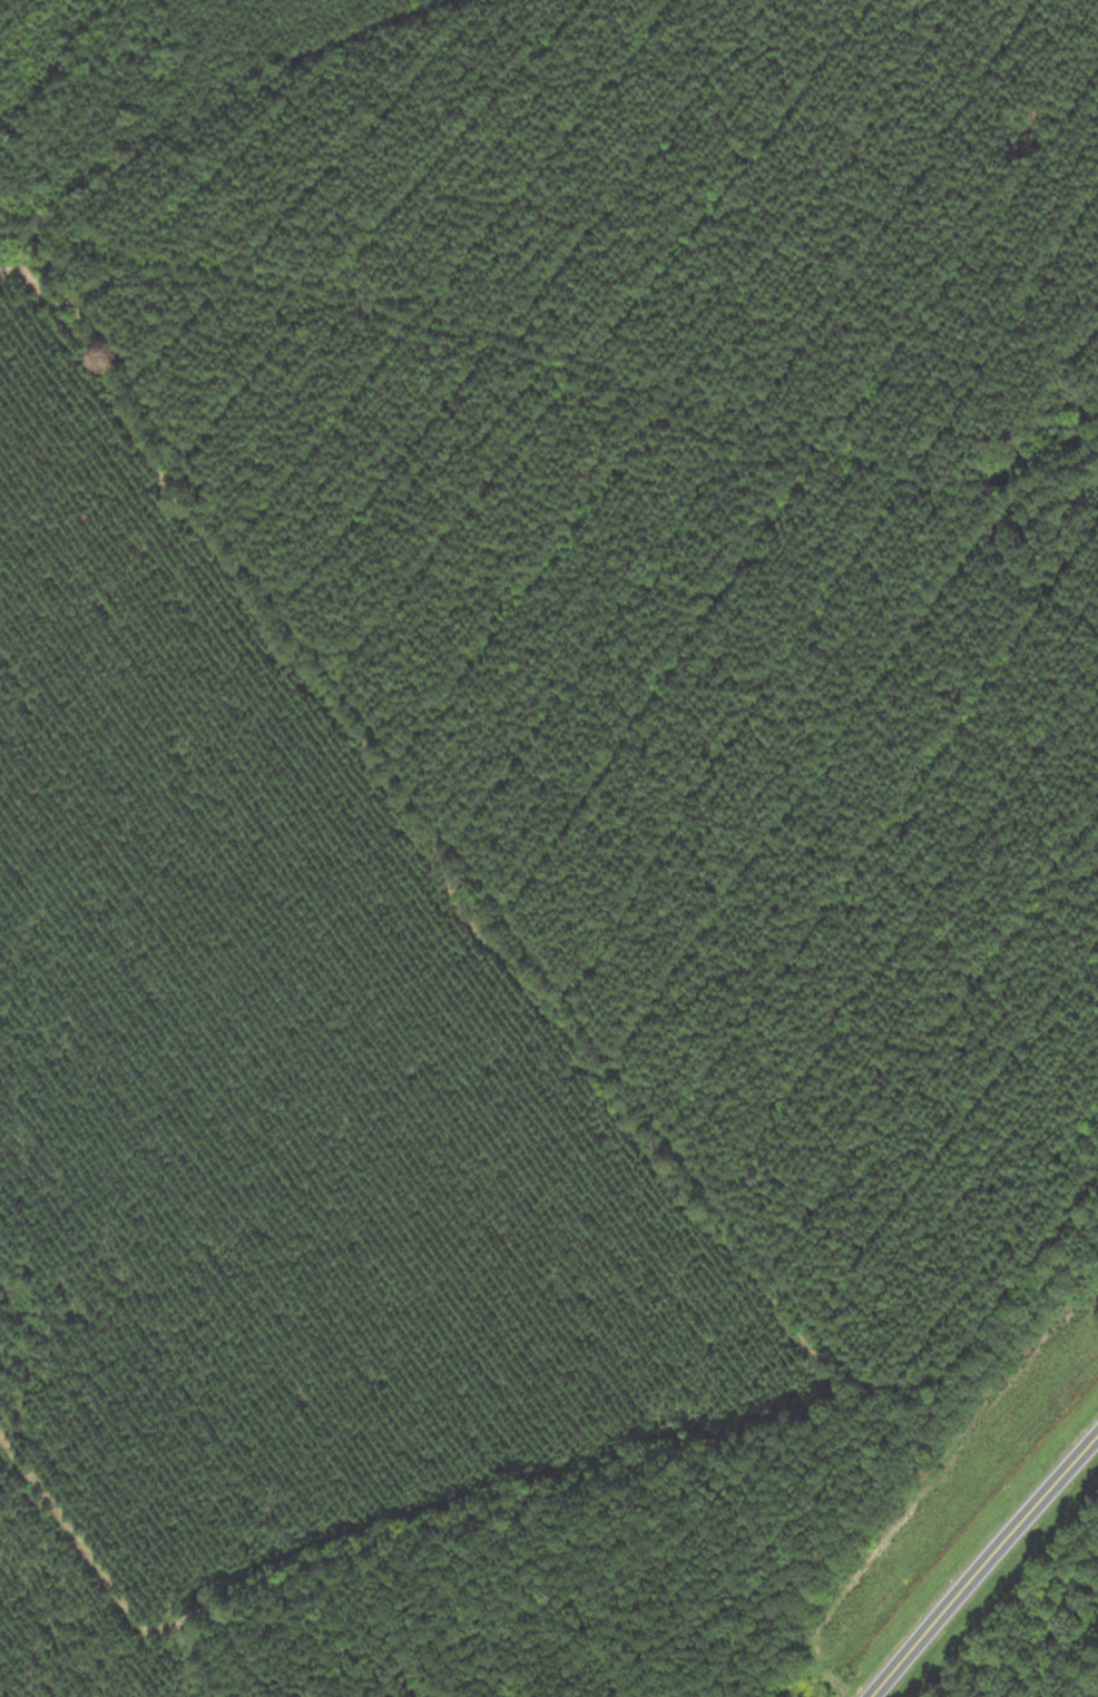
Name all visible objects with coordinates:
road: (977, 1564)

